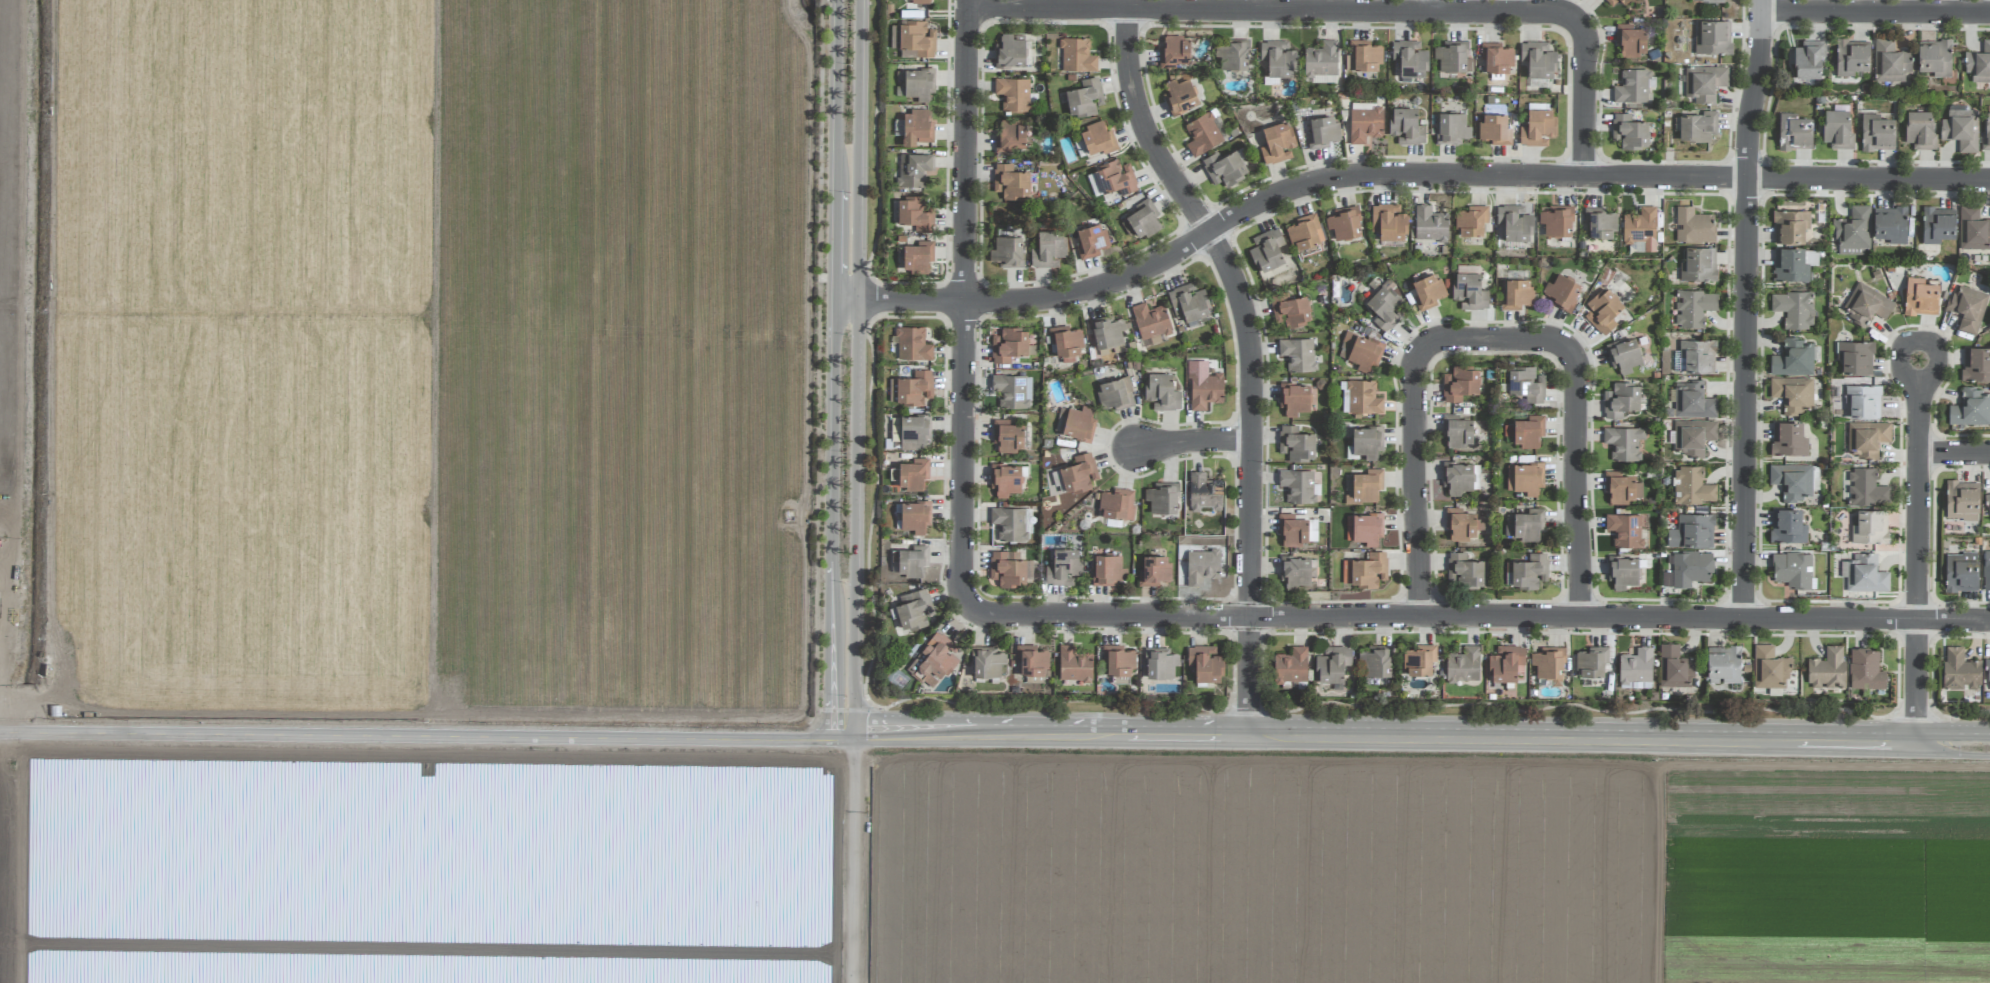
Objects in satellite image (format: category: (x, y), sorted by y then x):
building: (1708, 1)
building: (1611, 3)
road: (1353, 11)
road: (1874, 11)
building: (914, 39)
building: (1713, 39)
building: (1630, 40)
building: (1010, 52)
building: (1174, 52)
building: (1077, 56)
building: (1363, 56)
building: (1233, 57)
building: (1451, 57)
building: (1852, 57)
building: (1496, 58)
building: (1278, 59)
building: (1410, 59)
building: (1934, 59)
building: (1538, 60)
building: (1809, 60)
building: (1891, 61)
building: (1979, 64)
building: (1704, 83)
building: (919, 84)
building: (1634, 86)
building: (1013, 94)
building: (1179, 97)
building: (1084, 98)
building: (1406, 126)
building: (1698, 127)
building: (916, 128)
building: (1538, 128)
building: (1961, 128)
building: (1452, 129)
building: (1494, 129)
building: (1837, 129)
building: (1920, 130)
building: (1322, 132)
building: (1629, 132)
building: (1794, 132)
building: (1204, 133)
building: (1877, 133)
building: (1986, 134)
building: (1010, 136)
building: (1097, 138)
building: (1277, 143)
building: (1224, 168)
building: (913, 170)
building: (1116, 177)
road: (1395, 177)
building: (1010, 182)
building: (915, 214)
building: (1141, 221)
building: (1556, 221)
building: (1388, 222)
building: (1470, 222)
building: (1344, 223)
building: (1514, 223)
building: (1599, 223)
building: (1430, 224)
building: (1890, 225)
building: (1938, 225)
building: (1640, 226)
building: (1694, 226)
building: (1790, 227)
building: (1973, 229)
building: (1853, 231)
building: (1303, 233)
building: (1091, 241)
building: (1048, 249)
building: (1269, 250)
building: (1007, 252)
building: (917, 257)
building: (1794, 264)
building: (1697, 266)
building: (1428, 290)
building: (1470, 290)
building: (1561, 293)
building: (1516, 294)
building: (1920, 297)
building: (1188, 303)
road: (960, 304)
building: (1866, 305)
building: (1384, 306)
building: (1693, 308)
road: (1745, 308)
building: (1794, 309)
building: (1967, 309)
building: (1292, 311)
building: (1603, 311)
building: (1151, 324)
building: (1108, 335)
road: (1498, 341)
building: (1066, 342)
building: (912, 344)
building: (1010, 345)
building: (1360, 351)
building: (1298, 354)
building: (1624, 355)
building: (1697, 355)
building: (1855, 357)
road: (1249, 358)
building: (1795, 358)
building: (1976, 364)
road: (856, 367)
road: (828, 368)
building: (1460, 384)
building: (1526, 384)
building: (1203, 386)
building: (914, 388)
building: (1012, 391)
building: (1162, 392)
building: (1115, 394)
building: (1792, 394)
building: (1363, 398)
building: (1294, 399)
building: (1621, 400)
building: (1692, 401)
building: (1863, 401)
building: (1971, 409)
building: (1077, 424)
building: (1457, 431)
building: (1525, 431)
building: (913, 432)
building: (1008, 436)
building: (1692, 436)
building: (1866, 438)
building: (1788, 439)
road: (1190, 441)
building: (1365, 443)
building: (1623, 443)
building: (1296, 444)
road: (1955, 455)
building: (1079, 474)
building: (912, 475)
building: (1524, 478)
building: (1005, 479)
building: (1456, 479)
building: (1791, 481)
building: (1299, 487)
building: (1619, 487)
building: (1692, 487)
building: (1363, 488)
building: (1866, 488)
building: (1204, 493)
building: (1162, 498)
building: (1962, 500)
building: (1989, 501)
building: (1117, 504)
building: (915, 517)
building: (1012, 524)
building: (1460, 524)
building: (1527, 526)
building: (1787, 526)
building: (1869, 528)
building: (1364, 529)
building: (1292, 530)
building: (1312, 530)
building: (1624, 530)
building: (1691, 531)
road: (1920, 551)
building: (1201, 566)
building: (1063, 567)
building: (1691, 568)
building: (1006, 569)
building: (1464, 569)
building: (1029, 570)
building: (1365, 570)
building: (1792, 570)
building: (1987, 570)
building: (1108, 571)
building: (1154, 571)
building: (1528, 571)
building: (1295, 572)
building: (1622, 572)
building: (1961, 572)
building: (1864, 574)
crop: (651, 586)
building: (913, 611)
road: (1480, 615)
building: (933, 660)
building: (1032, 661)
building: (1418, 661)
building: (1118, 662)
building: (1376, 662)
building: (1590, 662)
building: (987, 663)
building: (1161, 663)
building: (1205, 664)
building: (1332, 664)
building: (1506, 664)
building: (1074, 665)
building: (1463, 665)
building: (1549, 665)
building: (1723, 665)
building: (1291, 666)
building: (1674, 667)
building: (1769, 668)
building: (1636, 669)
building: (1827, 669)
building: (1865, 670)
building: (1960, 670)
building: (1988, 675)
road: (426, 734)
road: (1421, 737)
road: (853, 859)

